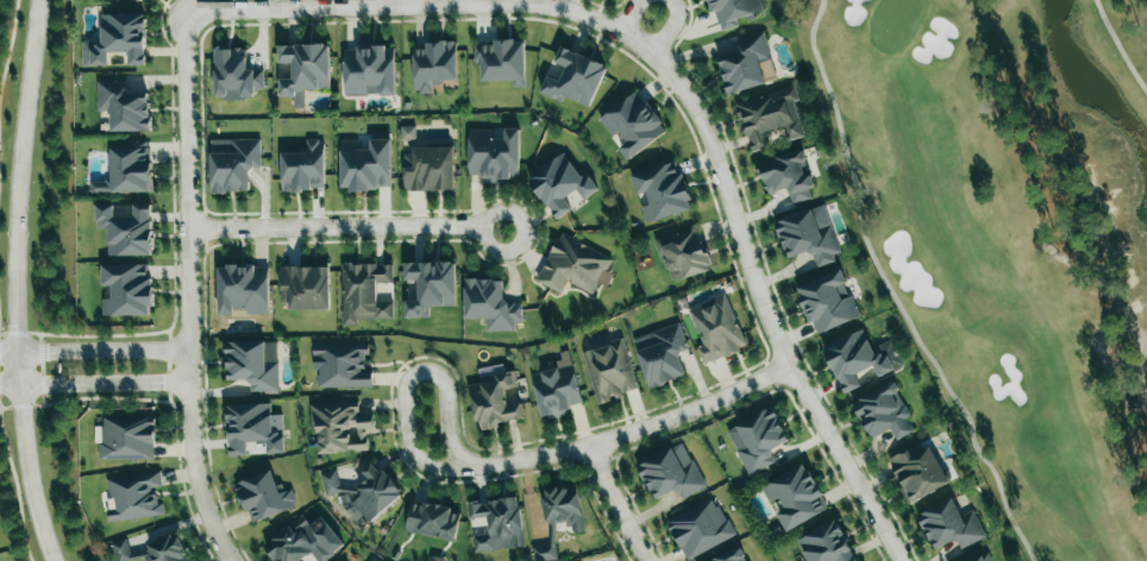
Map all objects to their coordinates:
building: (139, 0)
road: (425, 5)
building: (732, 11)
road: (632, 15)
road: (669, 27)
building: (118, 39)
building: (501, 61)
building: (433, 64)
building: (746, 64)
building: (303, 70)
building: (369, 70)
building: (234, 74)
building: (575, 78)
building: (124, 106)
building: (769, 116)
building: (633, 124)
building: (407, 132)
building: (494, 155)
building: (233, 164)
building: (365, 165)
building: (303, 169)
building: (428, 169)
building: (127, 170)
building: (788, 176)
building: (562, 185)
building: (662, 190)
road: (336, 226)
building: (126, 229)
building: (809, 235)
park: (1009, 235)
park: (1009, 235)
road: (496, 250)
building: (683, 254)
building: (572, 265)
road: (17, 282)
building: (430, 286)
building: (305, 288)
building: (126, 289)
building: (243, 289)
road: (189, 290)
building: (364, 292)
building: (827, 302)
building: (490, 304)
road: (766, 309)
building: (716, 329)
road: (94, 349)
building: (660, 354)
building: (859, 359)
building: (253, 364)
building: (343, 365)
building: (609, 371)
road: (408, 379)
road: (95, 383)
building: (556, 390)
building: (495, 401)
building: (883, 411)
building: (340, 427)
building: (253, 428)
road: (633, 431)
building: (125, 440)
building: (757, 440)
building: (916, 472)
building: (671, 473)
building: (362, 492)
building: (133, 496)
building: (795, 496)
building: (263, 497)
road: (616, 503)
building: (563, 506)
building: (432, 521)
building: (497, 524)
building: (949, 525)
building: (700, 529)
building: (305, 541)
building: (826, 544)
building: (546, 548)
building: (152, 550)
building: (729, 555)
building: (982, 557)
building: (374, 559)

